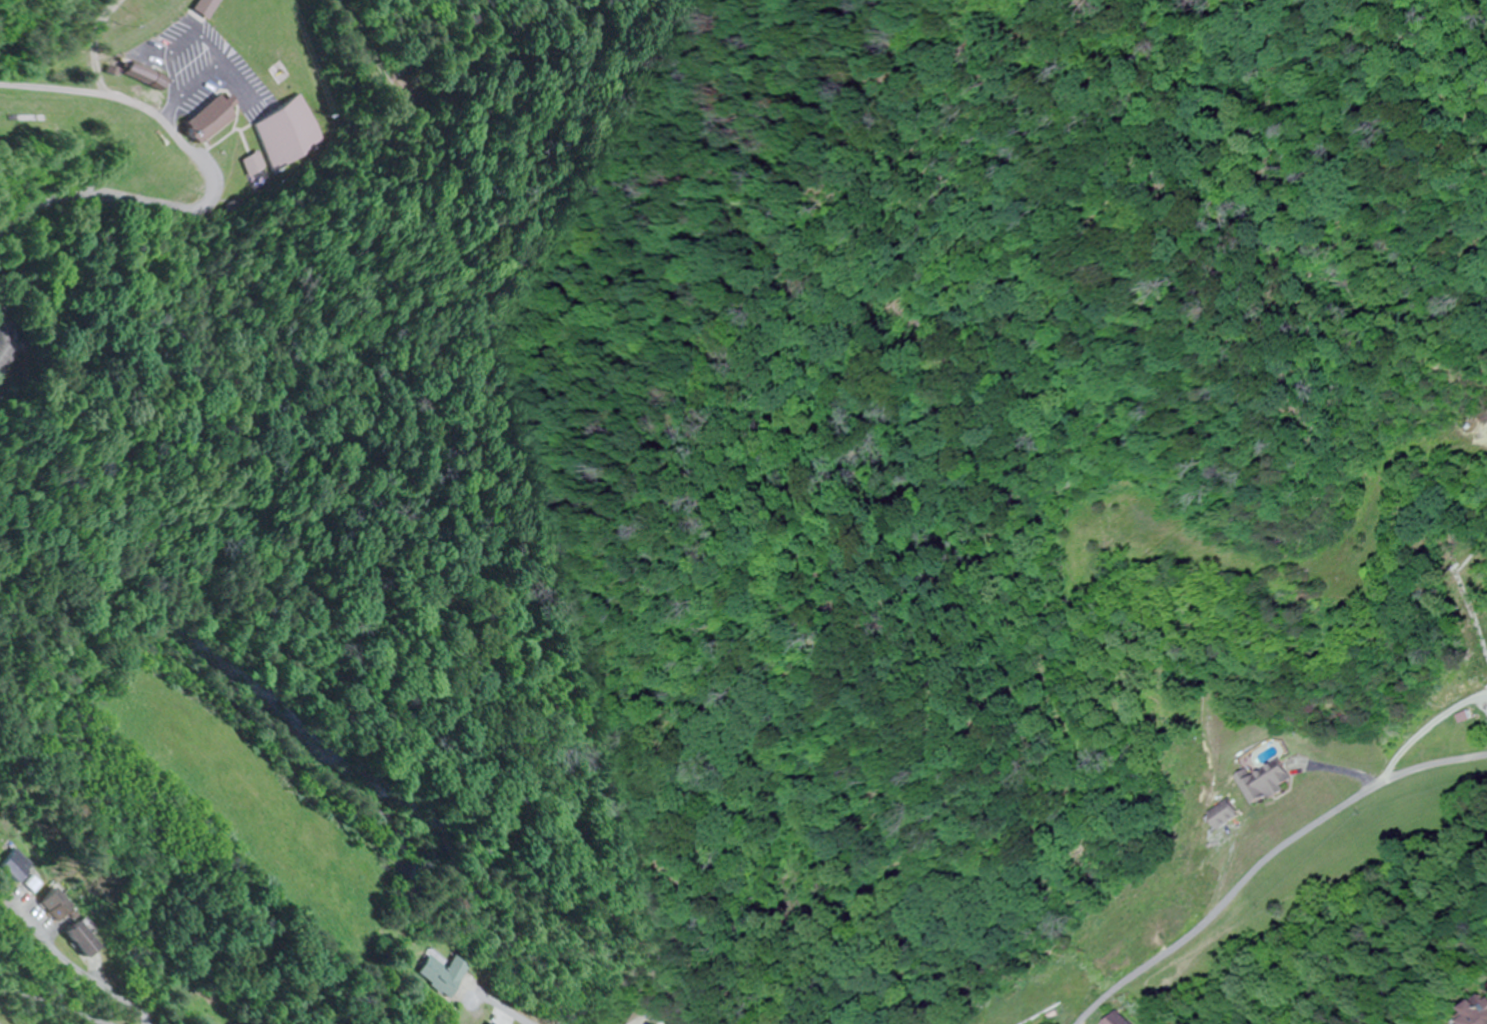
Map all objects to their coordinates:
building: (124, 75)
building: (194, 119)
building: (287, 133)
building: (249, 164)
road: (208, 182)
road: (1469, 734)
road: (1469, 763)
building: (1262, 784)
road: (1266, 860)
building: (17, 865)
building: (56, 904)
building: (81, 939)
building: (444, 974)
road: (91, 978)
road: (51, 1005)
road: (513, 1009)
building: (1477, 1013)
building: (1117, 1019)
building: (236, 1023)

